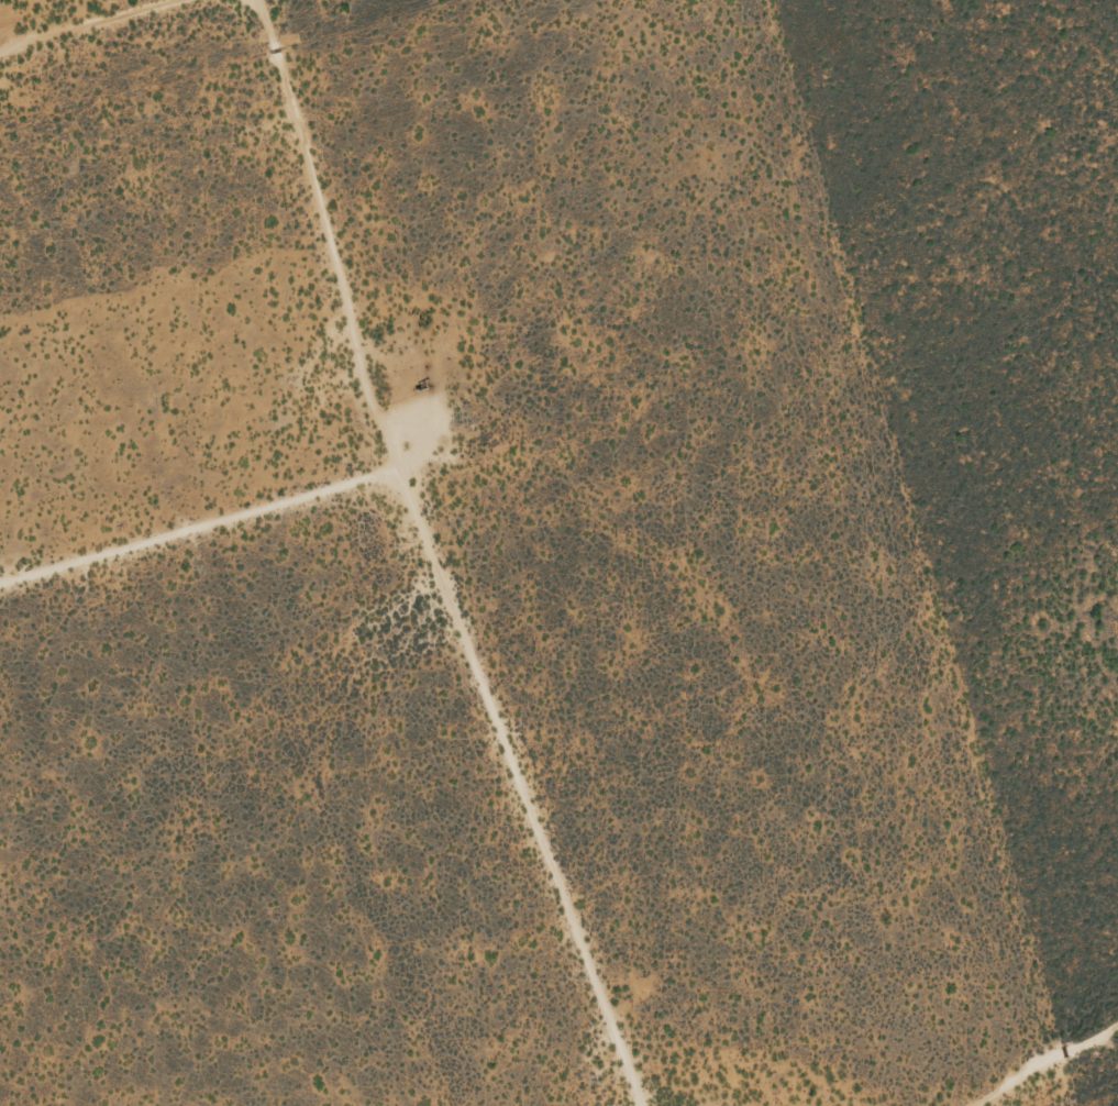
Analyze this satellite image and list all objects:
road: (81, 11)
road: (217, 511)
road: (471, 557)
road: (1053, 1064)

